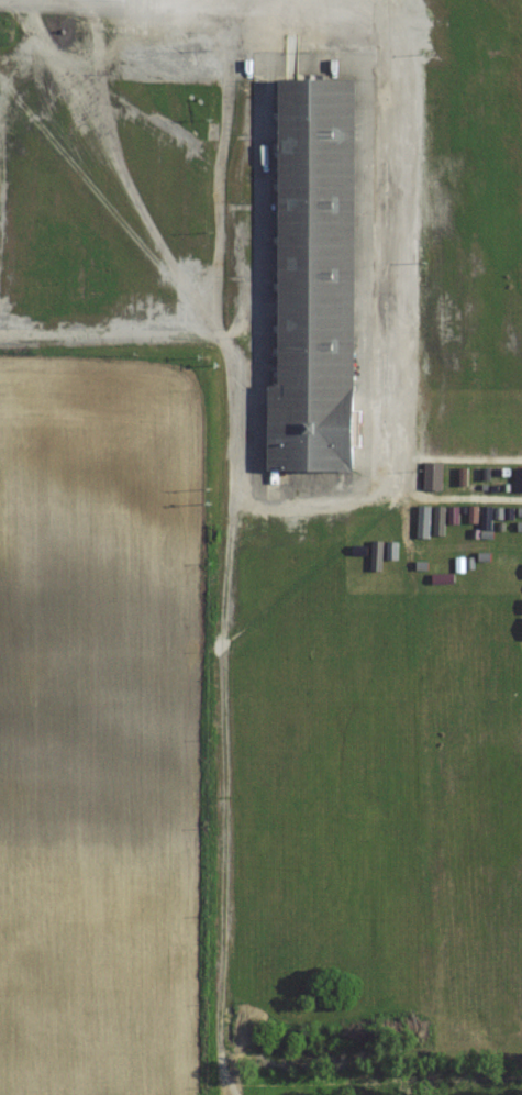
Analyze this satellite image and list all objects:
building: (316, 279)
road: (400, 462)
building: (517, 943)

